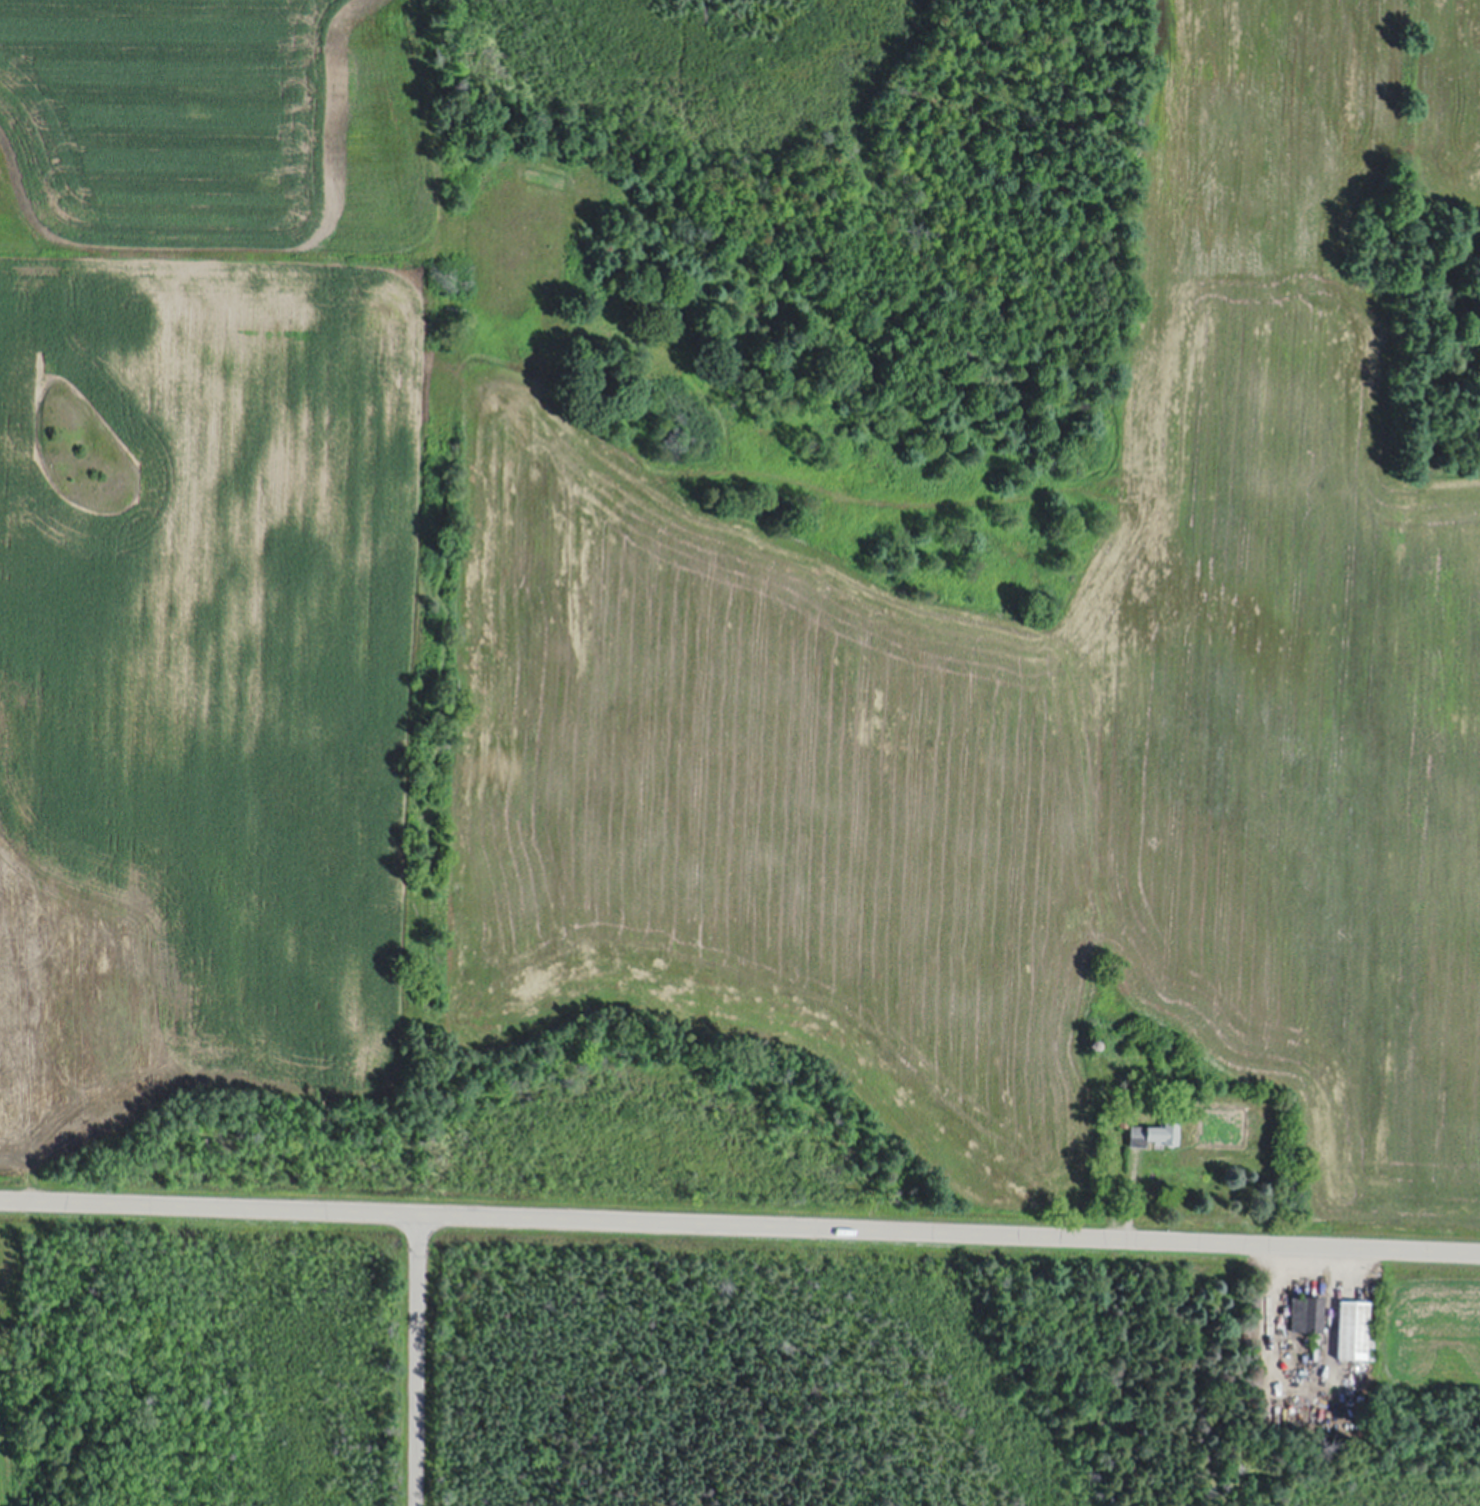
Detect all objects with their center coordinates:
building: (1096, 1043)
building: (1138, 1095)
building: (1124, 1121)
building: (1154, 1133)
road: (740, 1222)
building: (1308, 1313)
building: (1353, 1330)
building: (1371, 1347)
road: (416, 1359)

